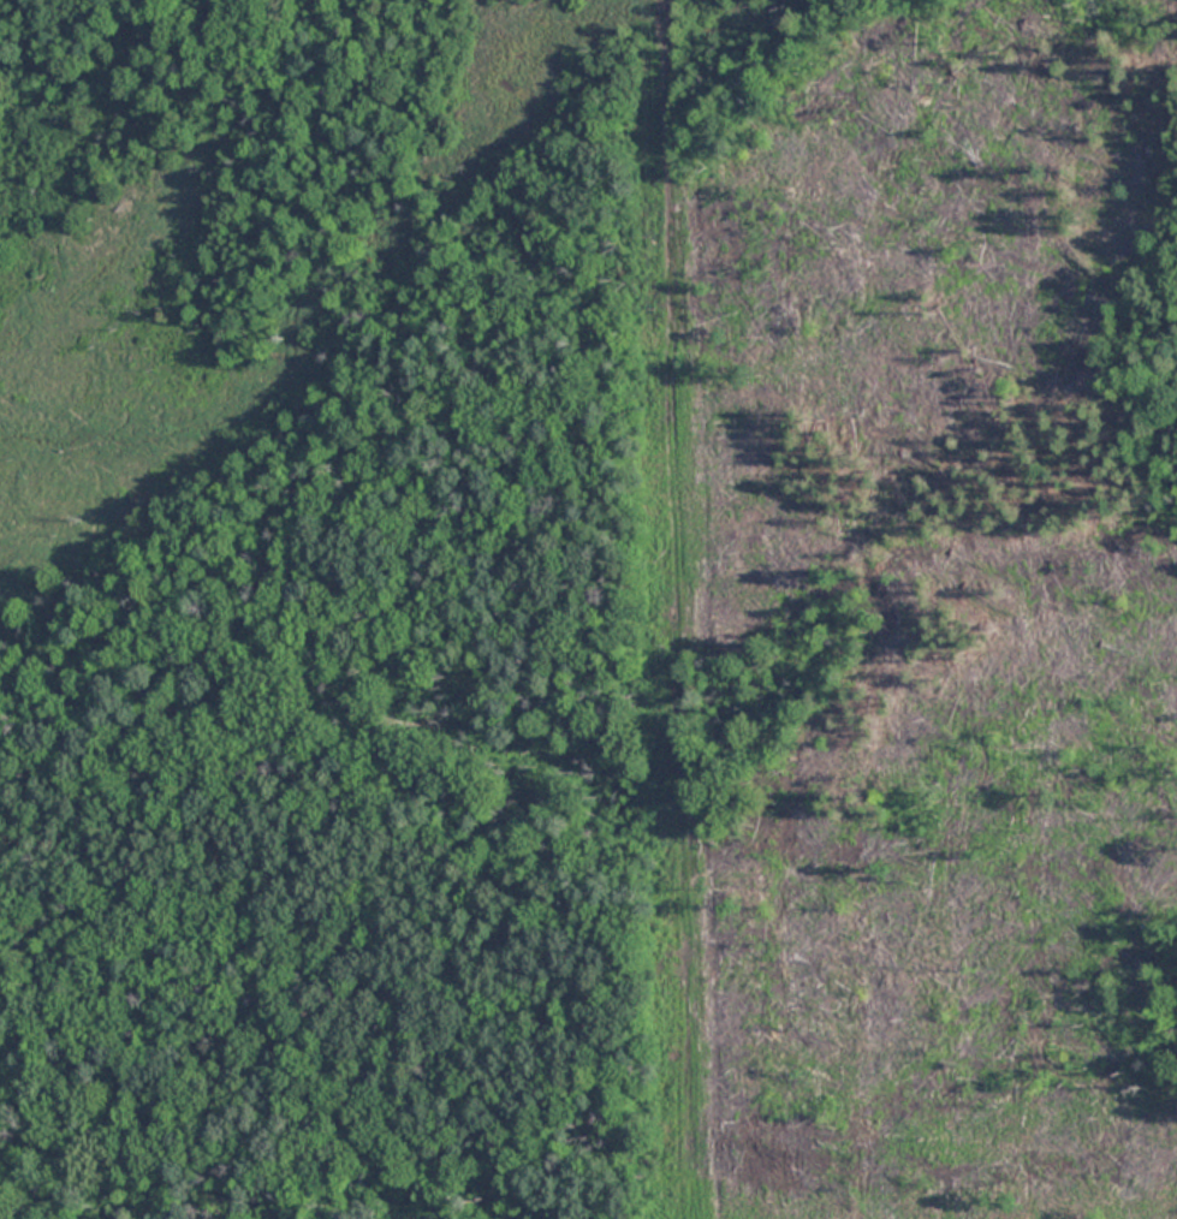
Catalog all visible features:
park: (588, 609)

